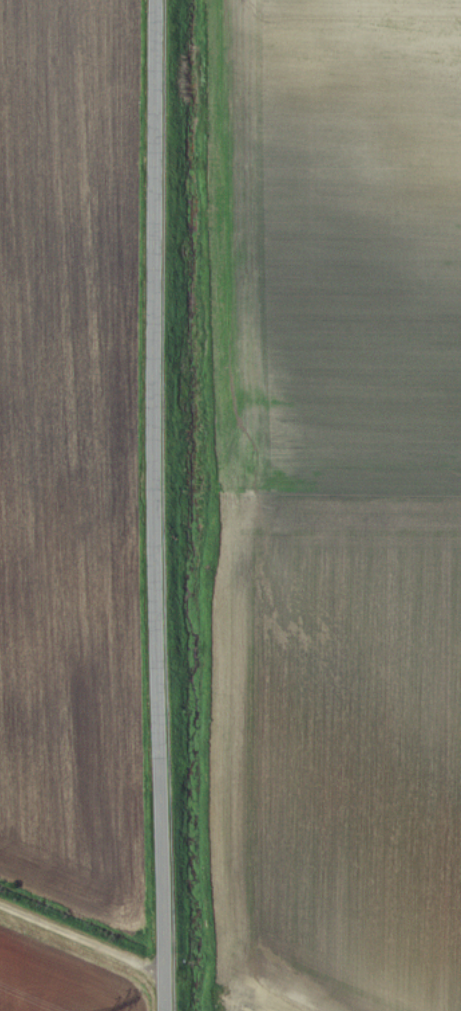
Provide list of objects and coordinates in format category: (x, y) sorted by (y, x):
road: (162, 253)
road: (167, 758)

